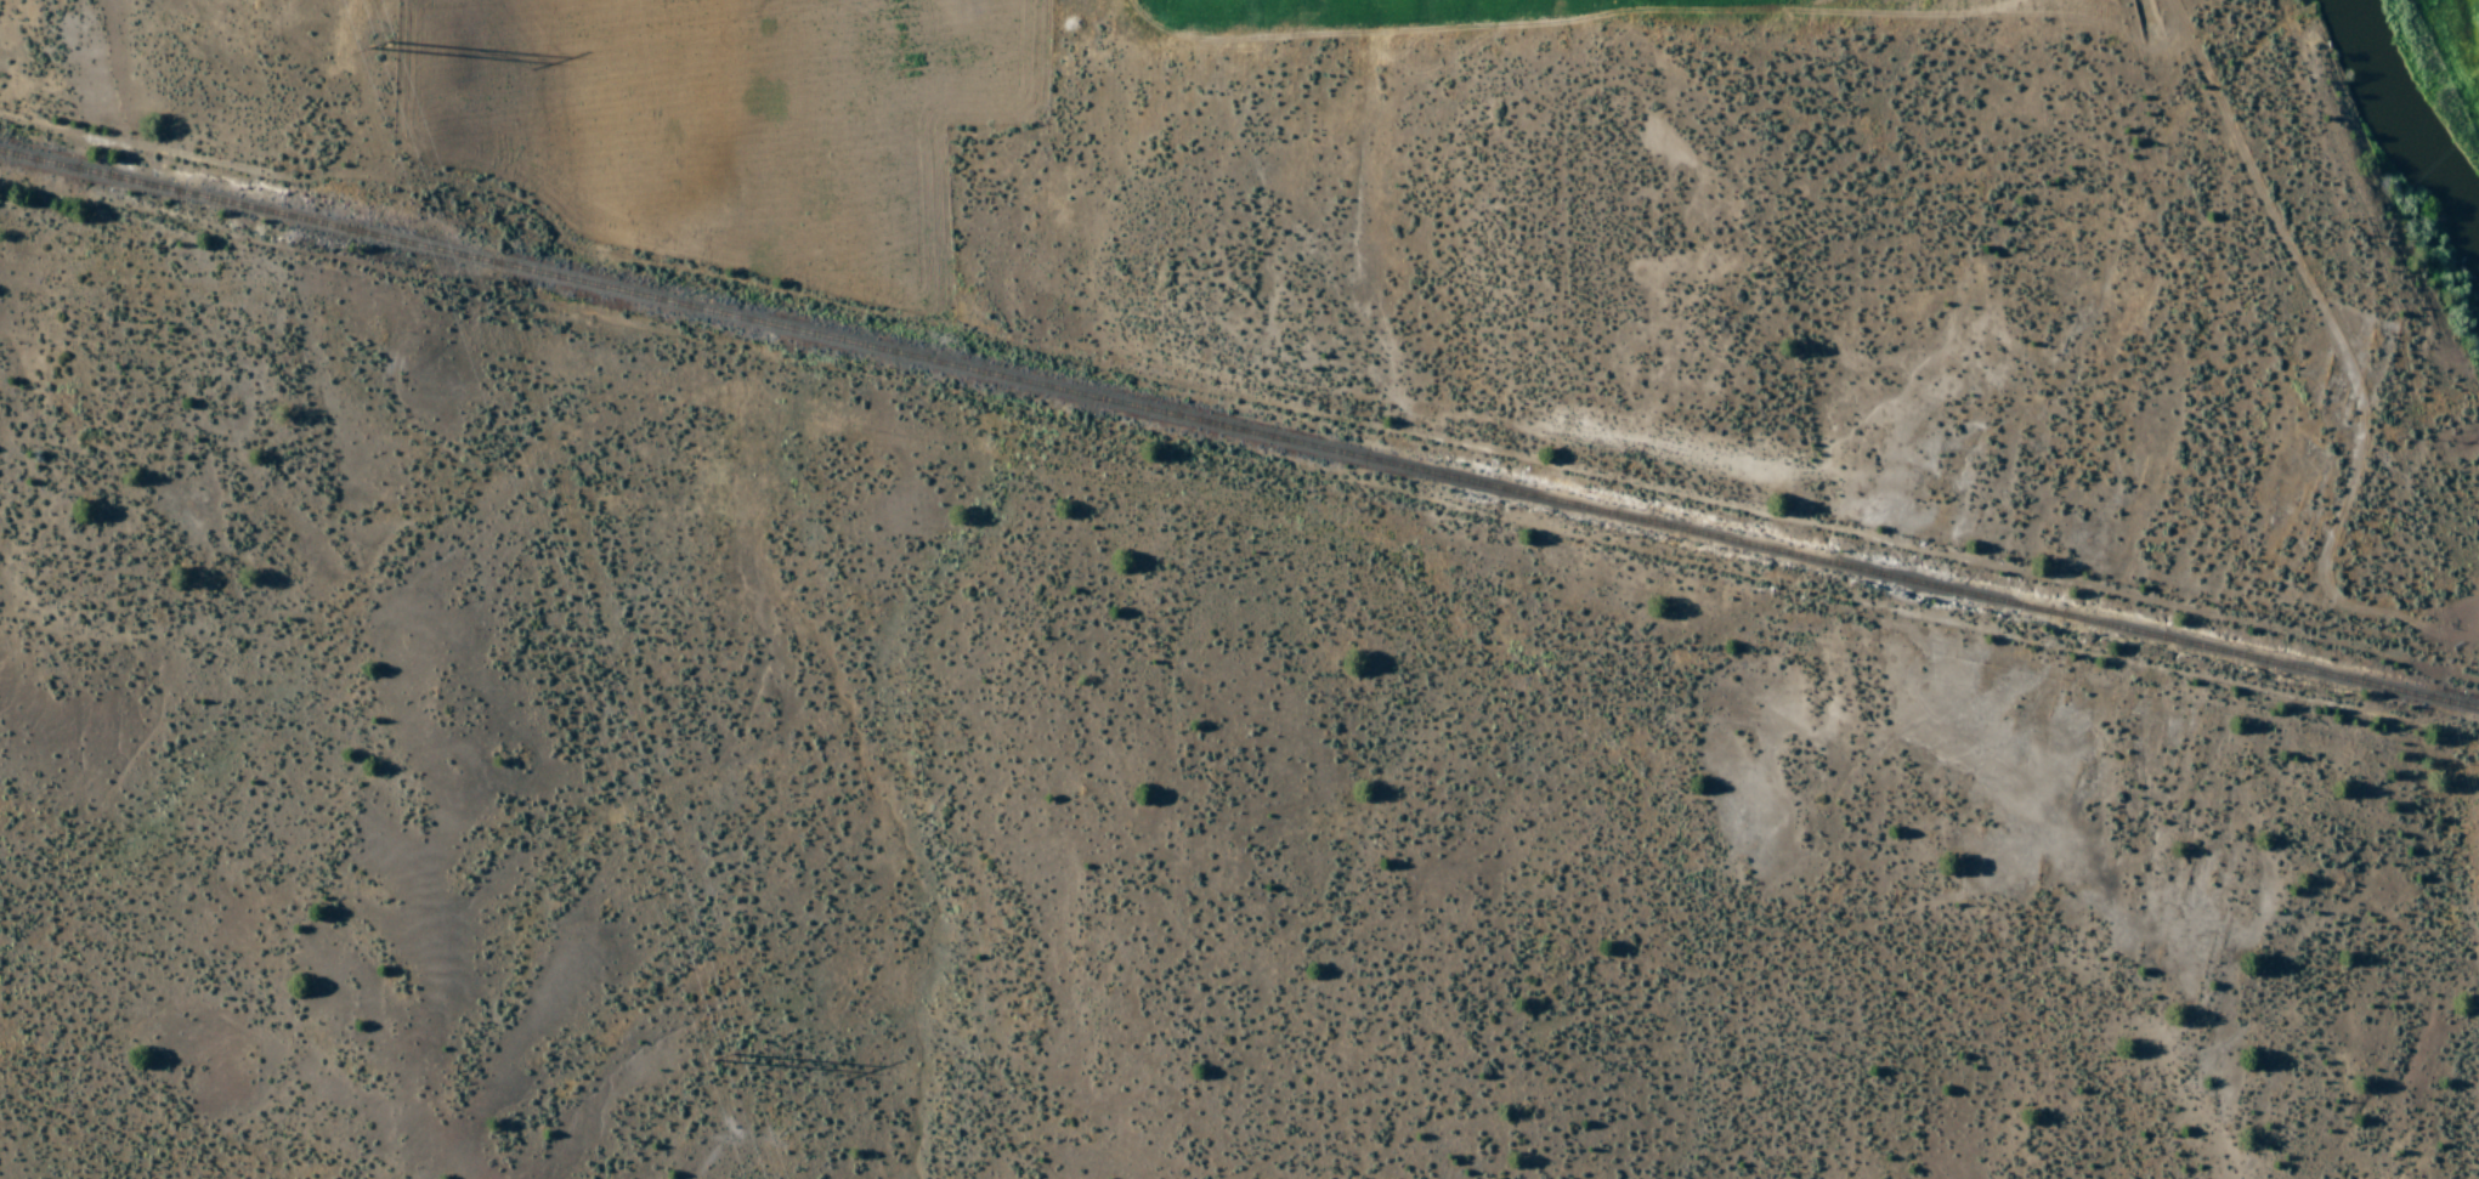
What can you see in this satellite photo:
power tower: (381, 49)
river: (2417, 132)
railway: (1239, 431)
power tower: (725, 1058)

